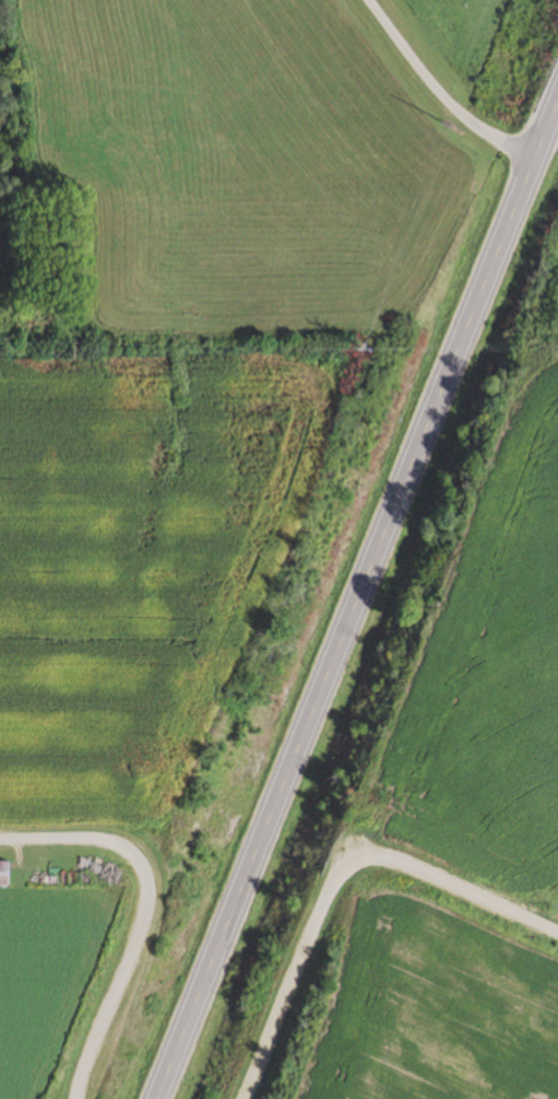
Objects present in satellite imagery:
road: (441, 90)
road: (549, 144)
road: (356, 599)
building: (3, 875)
road: (337, 877)
road: (144, 912)

